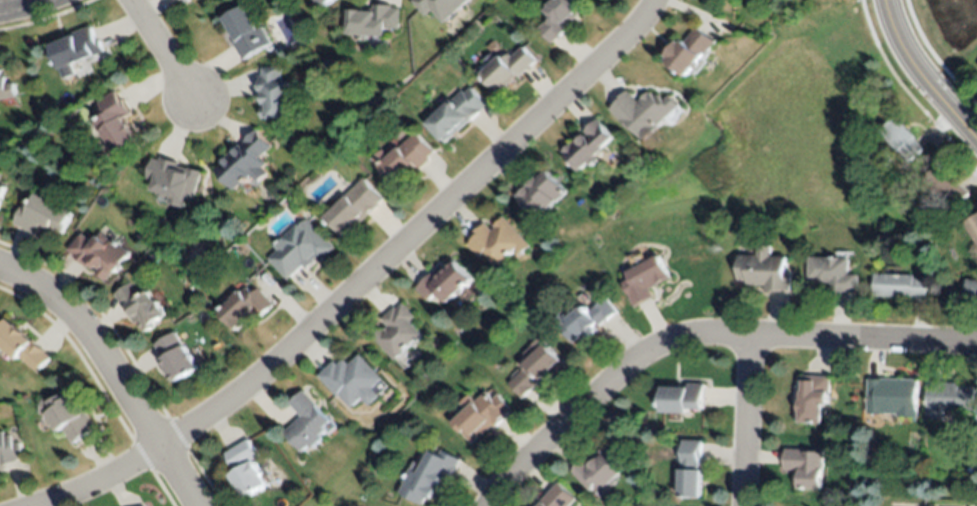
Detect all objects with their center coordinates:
building: (184, 1)
building: (326, 2)
road: (21, 5)
building: (439, 7)
building: (560, 18)
building: (372, 21)
building: (245, 30)
park: (945, 34)
building: (75, 47)
road: (160, 49)
building: (690, 51)
building: (488, 57)
building: (508, 68)
road: (926, 70)
building: (6, 89)
building: (276, 94)
building: (644, 112)
building: (455, 114)
building: (115, 123)
building: (902, 139)
building: (587, 145)
building: (403, 158)
building: (244, 161)
building: (887, 162)
building: (173, 179)
building: (946, 186)
building: (2, 190)
building: (868, 190)
building: (538, 192)
building: (353, 207)
building: (42, 216)
building: (972, 228)
road: (415, 233)
building: (497, 241)
building: (299, 250)
building: (99, 254)
building: (764, 270)
building: (832, 274)
building: (644, 280)
building: (444, 282)
building: (900, 286)
building: (976, 293)
building: (138, 306)
building: (243, 307)
building: (584, 319)
building: (395, 332)
road: (699, 335)
building: (21, 346)
building: (175, 358)
building: (535, 370)
road: (112, 372)
building: (350, 380)
building: (892, 396)
building: (812, 397)
building: (948, 398)
building: (681, 399)
building: (480, 416)
building: (68, 417)
road: (748, 421)
building: (305, 423)
building: (8, 450)
building: (915, 466)
building: (806, 467)
building: (971, 468)
building: (244, 469)
building: (690, 469)
building: (599, 470)
building: (426, 476)
road: (97, 480)
building: (557, 497)
building: (142, 505)

